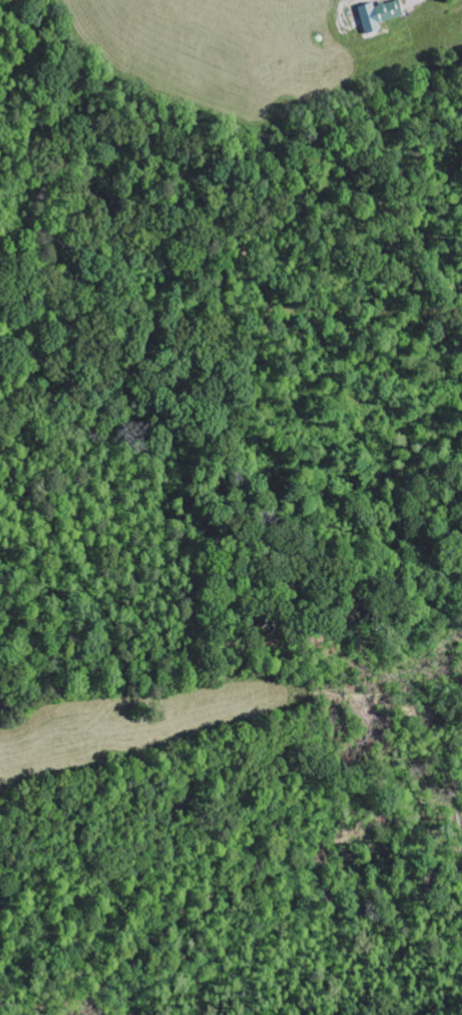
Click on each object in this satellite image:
building: (382, 15)

